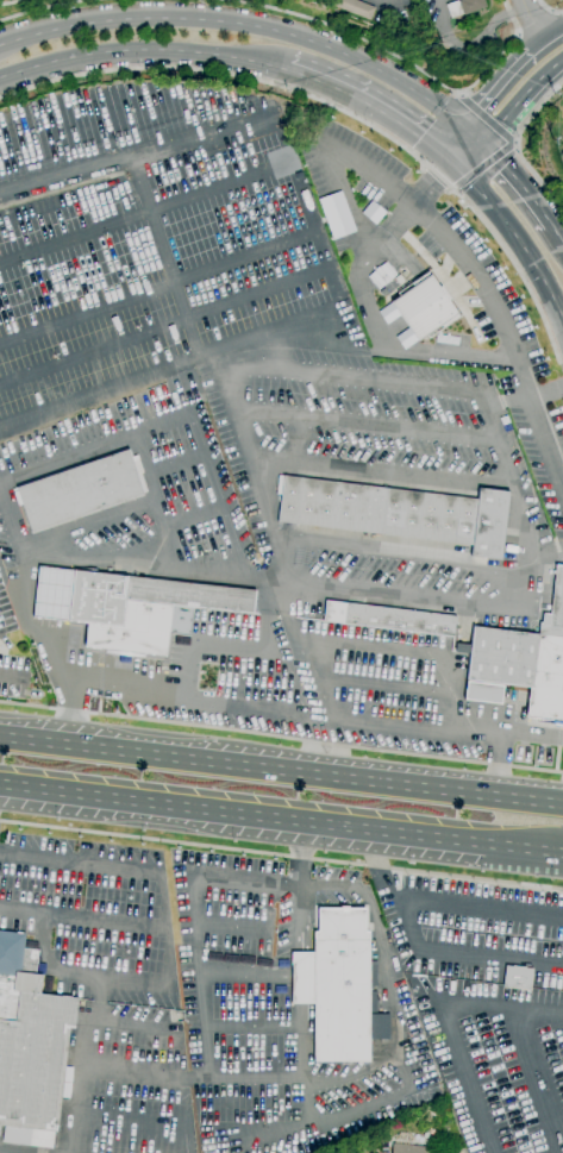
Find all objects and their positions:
building: (355, 7)
building: (463, 7)
road: (46, 10)
road: (549, 10)
road: (532, 20)
road: (533, 23)
road: (242, 24)
road: (473, 42)
road: (543, 43)
road: (140, 50)
road: (399, 58)
road: (221, 73)
road: (494, 93)
road: (459, 94)
road: (520, 101)
road: (371, 106)
road: (484, 118)
road: (434, 124)
building: (562, 126)
traffic signals: (463, 127)
road: (473, 136)
road: (514, 143)
road: (456, 144)
traffic signals: (483, 145)
road: (518, 146)
road: (135, 152)
road: (467, 153)
traffic signals: (450, 162)
road: (437, 174)
road: (431, 183)
road: (519, 183)
road: (300, 188)
road: (52, 193)
road: (68, 200)
road: (345, 205)
road: (144, 208)
road: (513, 233)
road: (557, 236)
road: (383, 237)
road: (162, 253)
road: (518, 271)
road: (482, 282)
road: (157, 287)
road: (337, 294)
building: (424, 307)
road: (369, 313)
road: (163, 326)
road: (271, 338)
road: (276, 353)
road: (457, 355)
road: (98, 390)
road: (476, 390)
road: (367, 424)
road: (96, 444)
road: (177, 459)
road: (217, 468)
road: (383, 474)
building: (80, 489)
road: (155, 500)
road: (265, 508)
building: (399, 513)
road: (198, 515)
road: (93, 521)
road: (12, 529)
road: (399, 553)
road: (544, 554)
road: (46, 560)
road: (150, 564)
road: (48, 593)
road: (388, 595)
building: (130, 607)
road: (268, 618)
building: (389, 619)
road: (207, 651)
road: (370, 652)
road: (55, 656)
road: (512, 658)
building: (525, 658)
road: (11, 677)
flagpole: (204, 681)
road: (319, 682)
road: (384, 684)
road: (456, 697)
road: (45, 707)
road: (283, 713)
road: (70, 719)
road: (532, 735)
road: (501, 740)
road: (327, 741)
road: (281, 771)
road: (281, 822)
road: (369, 848)
road: (281, 856)
road: (77, 863)
flagpole: (283, 871)
road: (275, 882)
road: (301, 888)
road: (475, 906)
road: (392, 908)
road: (227, 917)
road: (81, 919)
road: (161, 928)
road: (42, 942)
road: (486, 958)
road: (198, 975)
road: (244, 976)
road: (105, 977)
building: (518, 977)
road: (296, 978)
road: (302, 978)
building: (338, 989)
road: (394, 990)
road: (501, 1008)
road: (131, 1023)
road: (252, 1029)
building: (30, 1040)
road: (82, 1063)
road: (301, 1065)
road: (368, 1069)
road: (465, 1077)
road: (192, 1079)
road: (532, 1080)
road: (312, 1122)
road: (132, 1124)
building: (27, 1138)
building: (407, 1145)
building: (384, 1148)
road: (27, 1151)
building: (358, 1152)

